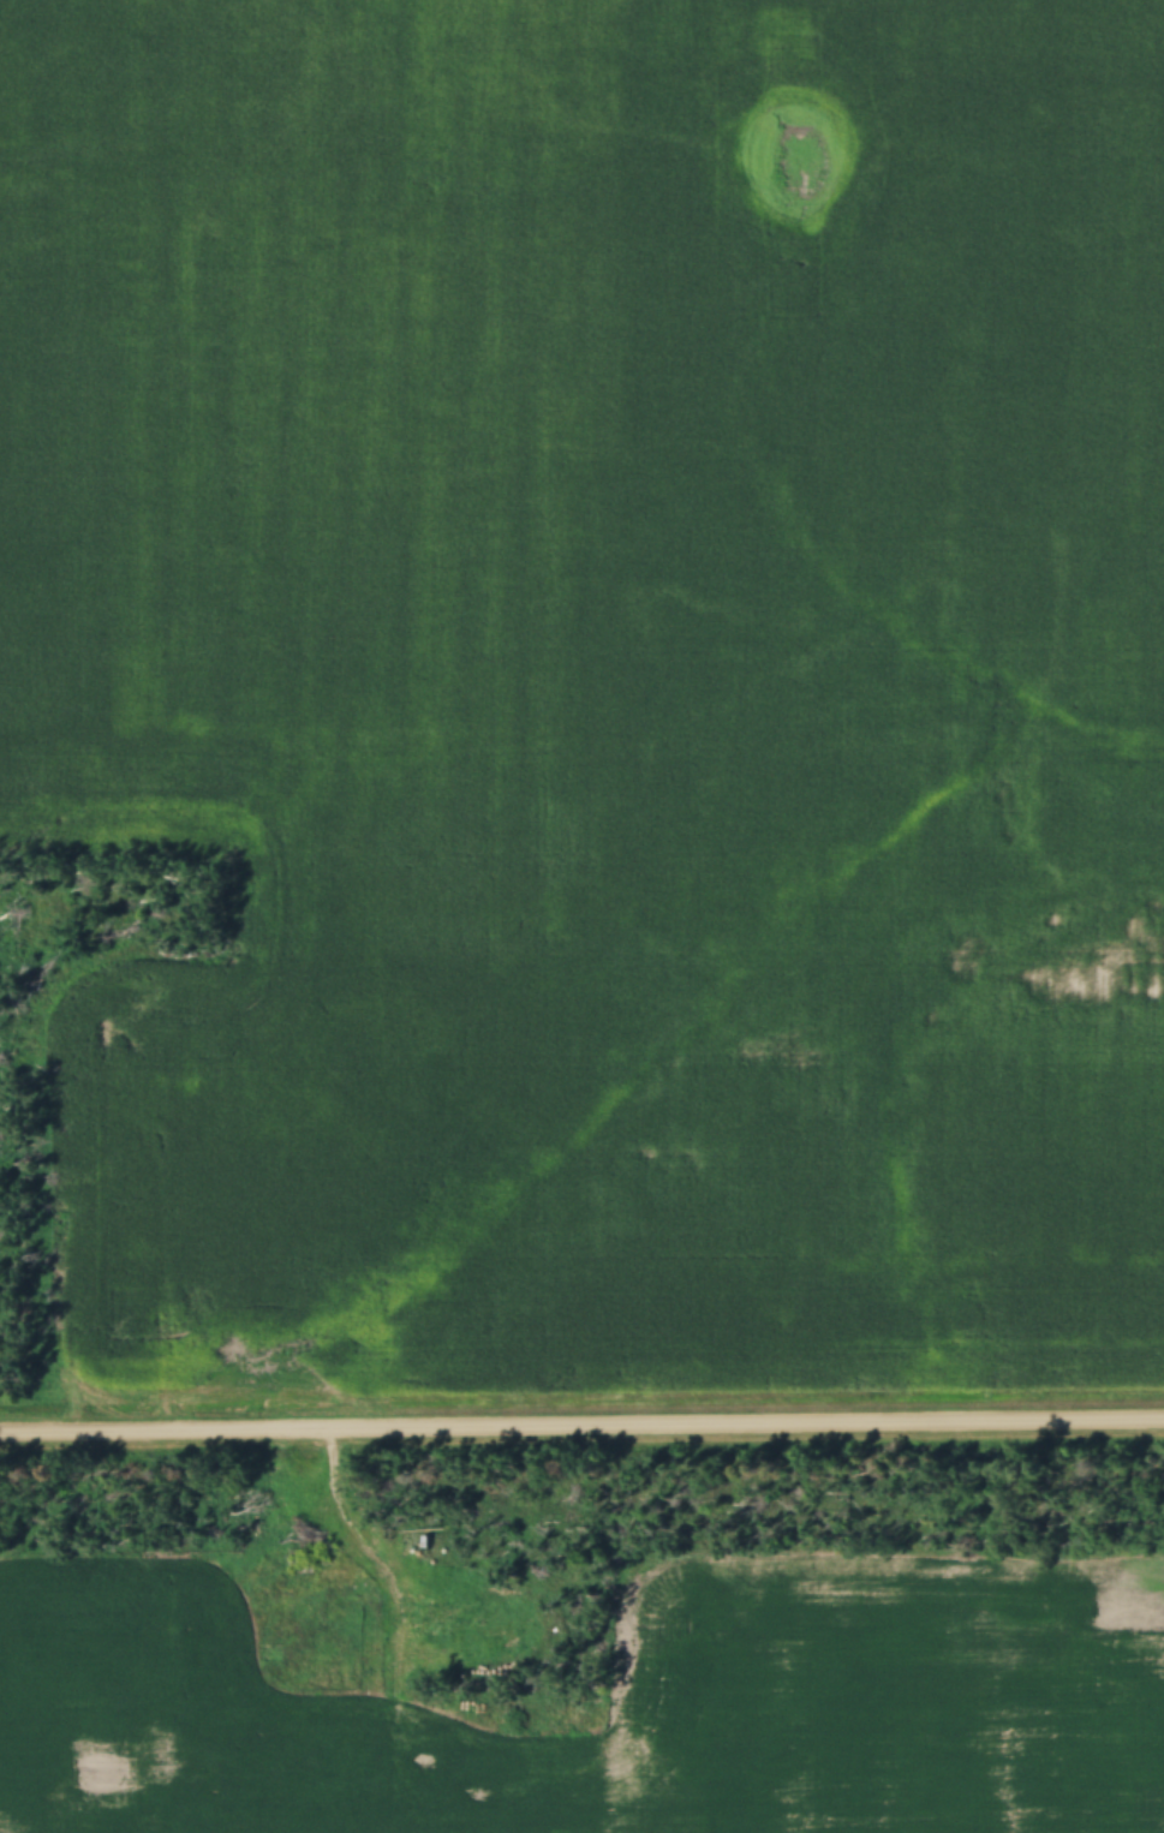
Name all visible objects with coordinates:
road: (581, 1422)
building: (502, 1814)

